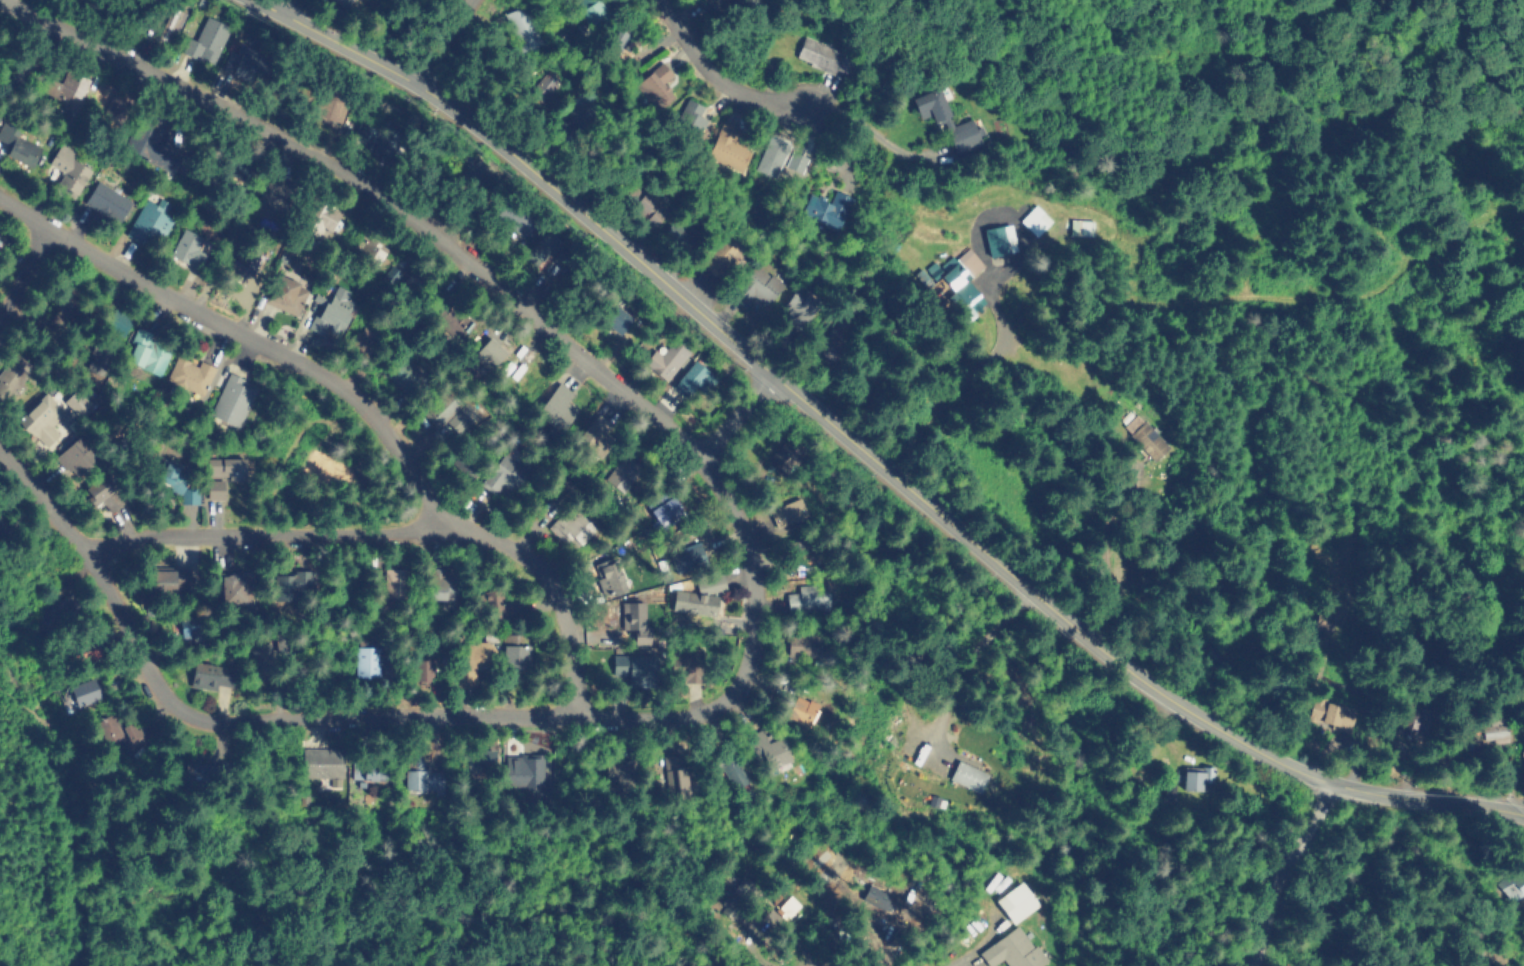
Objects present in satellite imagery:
building: (716, 0)
building: (346, 1)
road: (282, 5)
building: (590, 10)
building: (170, 15)
building: (522, 23)
building: (617, 39)
building: (205, 40)
road: (443, 40)
building: (817, 53)
building: (244, 61)
building: (15, 66)
road: (715, 69)
building: (653, 83)
building: (543, 85)
building: (62, 86)
building: (529, 101)
building: (113, 107)
building: (329, 107)
building: (928, 109)
building: (574, 116)
building: (688, 117)
road: (866, 131)
building: (144, 132)
building: (383, 133)
building: (961, 134)
building: (17, 143)
building: (728, 146)
building: (771, 156)
building: (796, 162)
building: (69, 171)
building: (231, 172)
building: (478, 178)
road: (374, 193)
building: (271, 198)
building: (103, 199)
building: (642, 203)
building: (825, 207)
building: (318, 218)
building: (1035, 219)
building: (517, 220)
building: (150, 223)
building: (1080, 226)
building: (679, 233)
building: (1143, 233)
building: (1000, 240)
building: (189, 247)
building: (537, 247)
building: (367, 249)
building: (717, 253)
building: (564, 256)
building: (242, 260)
road: (24, 270)
building: (957, 278)
building: (760, 287)
building: (412, 290)
building: (286, 295)
road: (1090, 304)
building: (59, 309)
building: (329, 313)
building: (798, 314)
building: (615, 317)
building: (108, 320)
building: (362, 341)
building: (833, 347)
building: (145, 351)
building: (667, 355)
building: (488, 356)
building: (99, 358)
building: (689, 373)
building: (406, 375)
building: (191, 376)
building: (11, 378)
building: (230, 399)
building: (76, 402)
road: (351, 403)
building: (555, 410)
building: (445, 412)
road: (739, 414)
building: (38, 415)
building: (462, 418)
building: (594, 431)
building: (1148, 439)
road: (869, 453)
building: (72, 454)
building: (782, 455)
building: (461, 459)
building: (220, 472)
building: (502, 472)
building: (621, 472)
building: (177, 478)
building: (103, 494)
building: (664, 508)
building: (787, 512)
building: (568, 523)
building: (4, 525)
road: (274, 534)
road: (1104, 555)
building: (688, 556)
building: (607, 578)
building: (164, 579)
building: (290, 580)
building: (443, 583)
building: (396, 584)
building: (232, 586)
building: (711, 604)
building: (804, 605)
building: (506, 607)
building: (66, 612)
building: (632, 619)
building: (1318, 620)
building: (192, 622)
building: (802, 643)
building: (367, 655)
building: (476, 655)
building: (517, 656)
building: (260, 662)
building: (686, 665)
road: (965, 665)
building: (631, 666)
building: (422, 667)
building: (212, 676)
building: (85, 690)
building: (804, 714)
building: (1330, 714)
road: (429, 716)
building: (1416, 721)
building: (118, 729)
building: (1494, 729)
road: (535, 748)
building: (771, 752)
building: (479, 759)
building: (322, 763)
building: (372, 765)
building: (1522, 765)
building: (524, 771)
building: (425, 772)
building: (192, 774)
building: (1196, 774)
building: (728, 775)
building: (620, 776)
building: (968, 776)
building: (675, 781)
building: (1164, 788)
road: (1284, 872)
building: (1514, 887)
building: (735, 896)
building: (876, 898)
building: (1014, 899)
building: (782, 906)
road: (977, 946)
building: (1011, 949)

